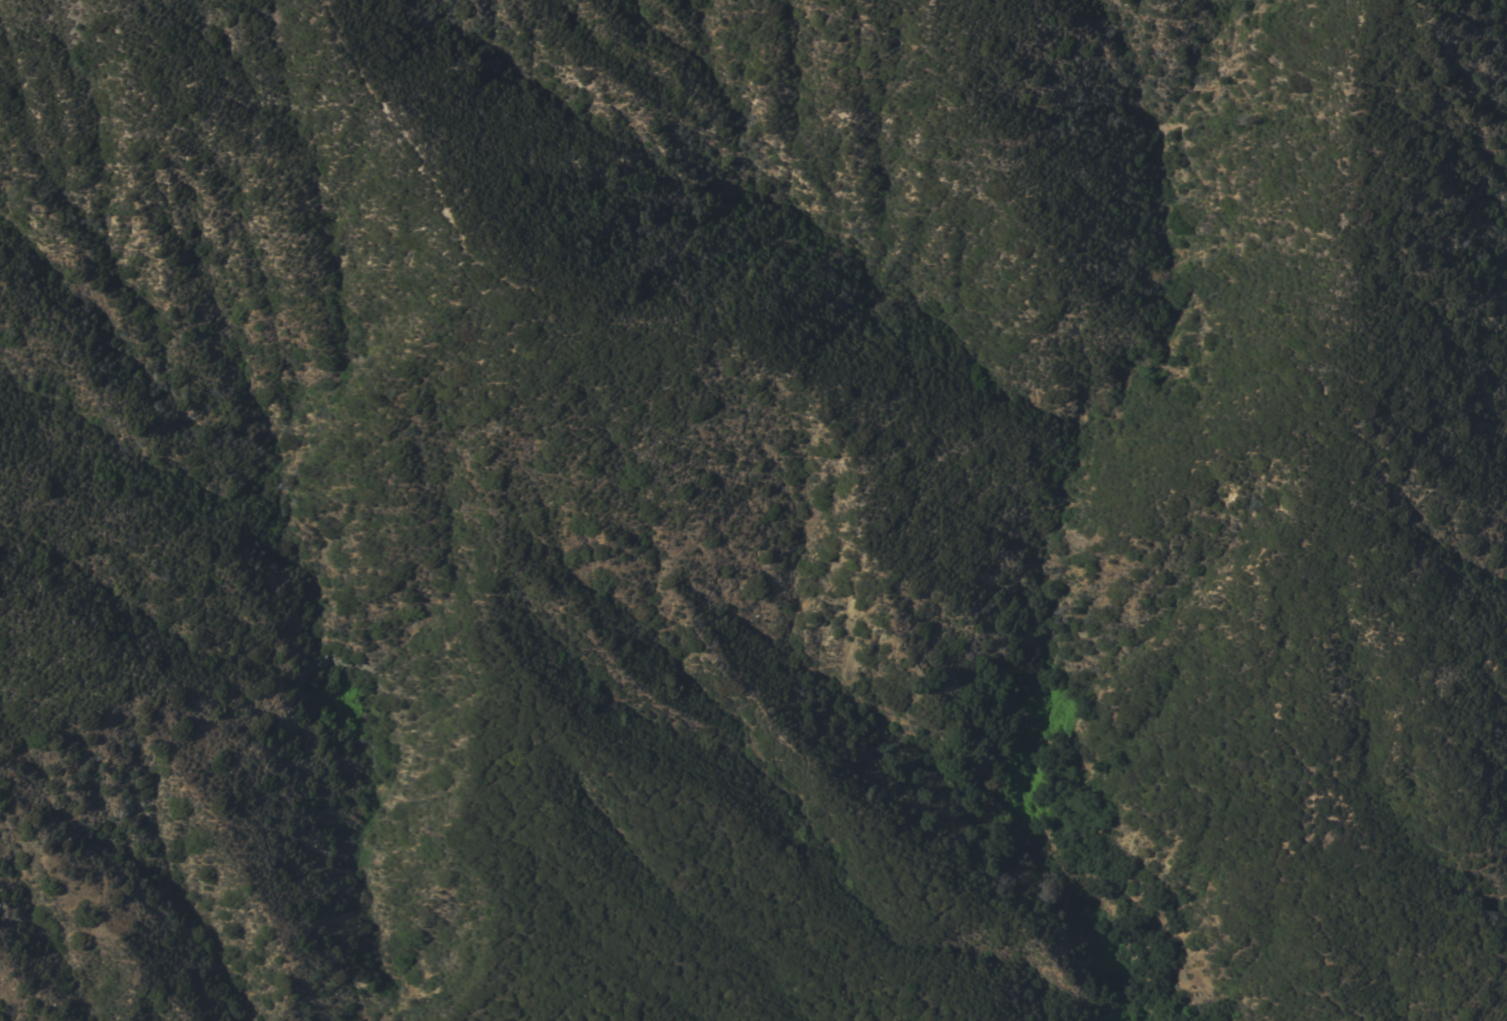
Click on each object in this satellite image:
park: (753, 622)

